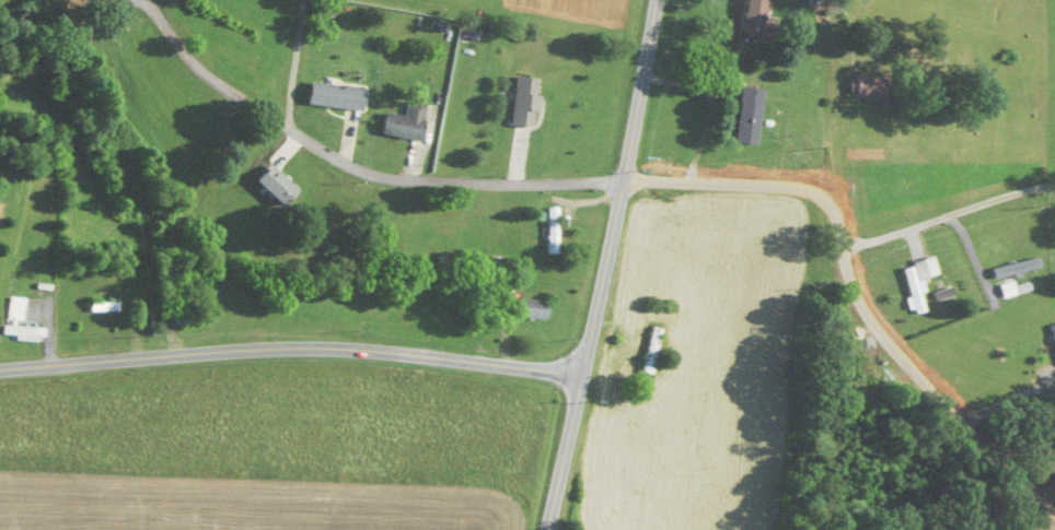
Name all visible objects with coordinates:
building: (747, 17)
road: (161, 24)
road: (70, 51)
road: (295, 64)
building: (865, 87)
building: (327, 96)
building: (522, 103)
building: (744, 117)
building: (402, 122)
road: (381, 178)
building: (273, 186)
road: (948, 216)
building: (549, 231)
road: (607, 266)
building: (1012, 269)
building: (499, 276)
building: (914, 283)
road: (855, 290)
building: (103, 308)
building: (529, 309)
building: (181, 317)
building: (20, 325)
building: (1052, 334)
road: (291, 350)
building: (649, 351)

